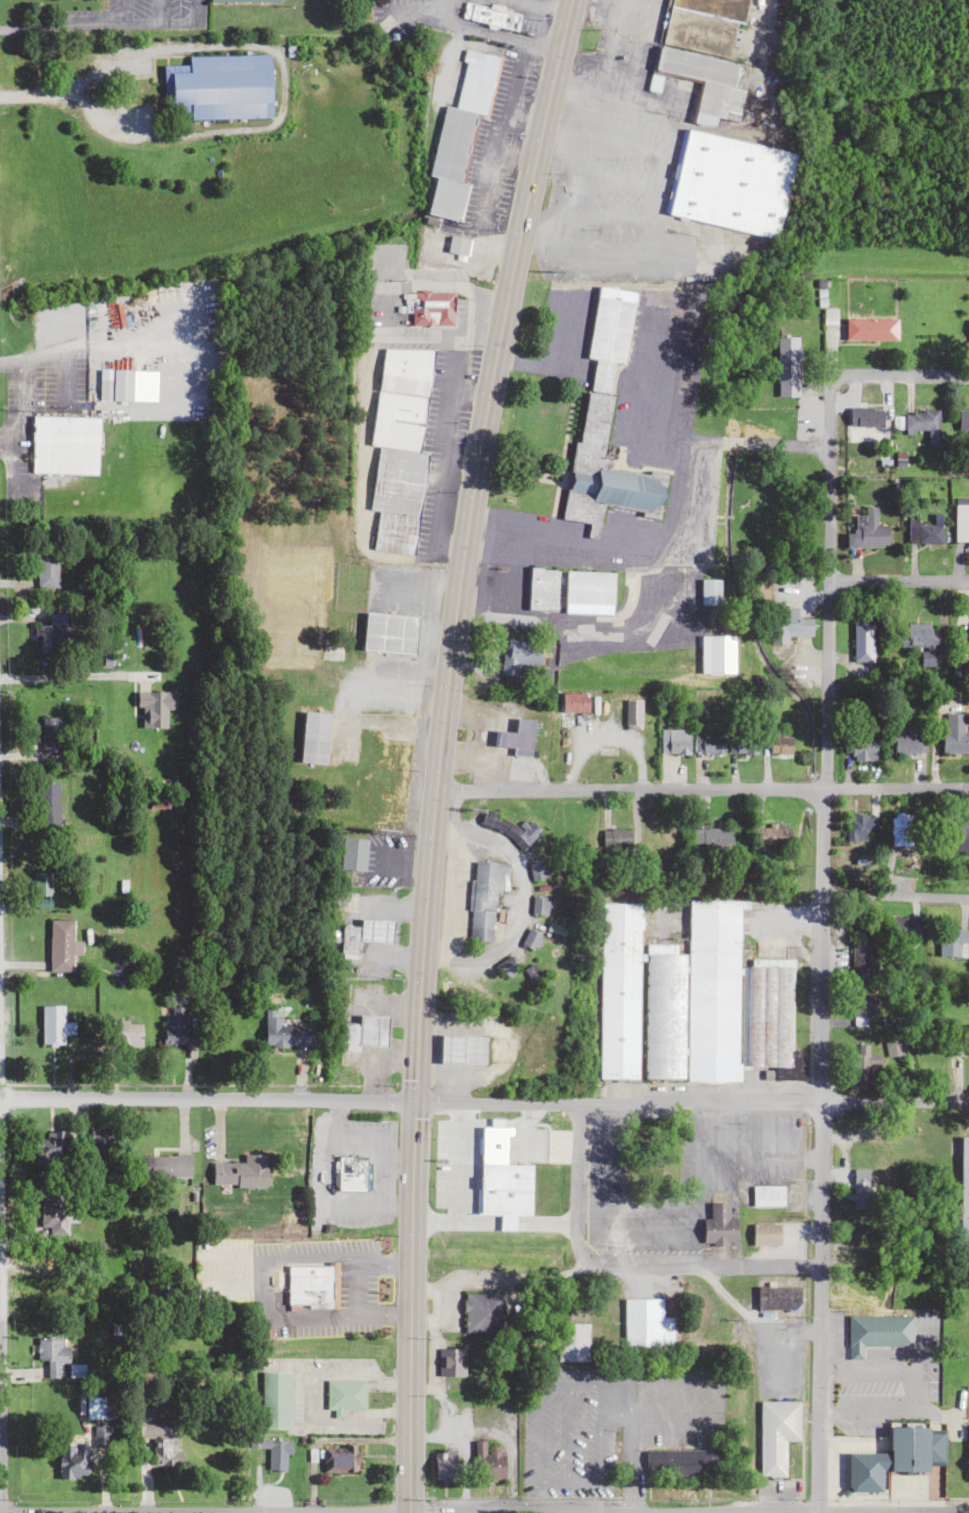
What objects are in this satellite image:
building: (240, 0)
road: (543, 5)
road: (421, 6)
building: (488, 14)
road: (491, 32)
building: (698, 39)
building: (218, 86)
building: (459, 132)
building: (729, 182)
building: (456, 244)
building: (432, 308)
building: (871, 328)
building: (608, 338)
building: (787, 366)
road: (901, 375)
building: (114, 385)
building: (865, 417)
building: (963, 421)
building: (921, 423)
building: (63, 445)
building: (398, 447)
road: (653, 460)
building: (603, 473)
building: (961, 523)
building: (868, 531)
building: (924, 533)
building: (342, 542)
building: (46, 571)
road: (899, 582)
building: (541, 588)
building: (588, 588)
building: (709, 591)
building: (789, 623)
building: (52, 633)
building: (388, 633)
building: (862, 641)
building: (921, 641)
building: (519, 656)
building: (573, 702)
building: (48, 734)
building: (955, 734)
building: (313, 737)
building: (517, 738)
building: (674, 741)
building: (908, 741)
building: (780, 743)
building: (707, 744)
building: (742, 744)
building: (861, 749)
road: (437, 750)
building: (374, 767)
road: (700, 790)
building: (158, 800)
building: (47, 807)
building: (861, 826)
building: (507, 828)
building: (901, 832)
building: (960, 836)
building: (615, 837)
building: (773, 837)
building: (710, 838)
building: (353, 854)
building: (535, 871)
building: (40, 884)
road: (895, 895)
building: (484, 898)
building: (538, 905)
building: (903, 928)
building: (365, 935)
building: (531, 939)
building: (952, 941)
road: (820, 944)
building: (60, 945)
building: (858, 953)
building: (506, 966)
building: (692, 1001)
building: (862, 1004)
building: (54, 1024)
building: (179, 1026)
building: (121, 1032)
building: (287, 1034)
building: (361, 1035)
building: (968, 1038)
building: (893, 1048)
building: (462, 1049)
building: (860, 1065)
road: (484, 1103)
building: (490, 1143)
building: (47, 1144)
building: (163, 1165)
building: (240, 1171)
building: (351, 1171)
building: (860, 1187)
building: (963, 1193)
building: (767, 1195)
building: (52, 1212)
building: (719, 1225)
building: (765, 1233)
road: (627, 1262)
building: (311, 1284)
building: (778, 1296)
building: (483, 1311)
building: (646, 1323)
building: (572, 1341)
building: (50, 1351)
building: (450, 1361)
building: (344, 1394)
building: (864, 1395)
building: (275, 1397)
building: (96, 1405)
building: (776, 1434)
building: (98, 1435)
building: (908, 1447)
building: (274, 1451)
building: (339, 1457)
building: (71, 1459)
building: (680, 1461)
building: (491, 1462)
building: (446, 1466)
building: (864, 1471)
road: (833, 1509)

